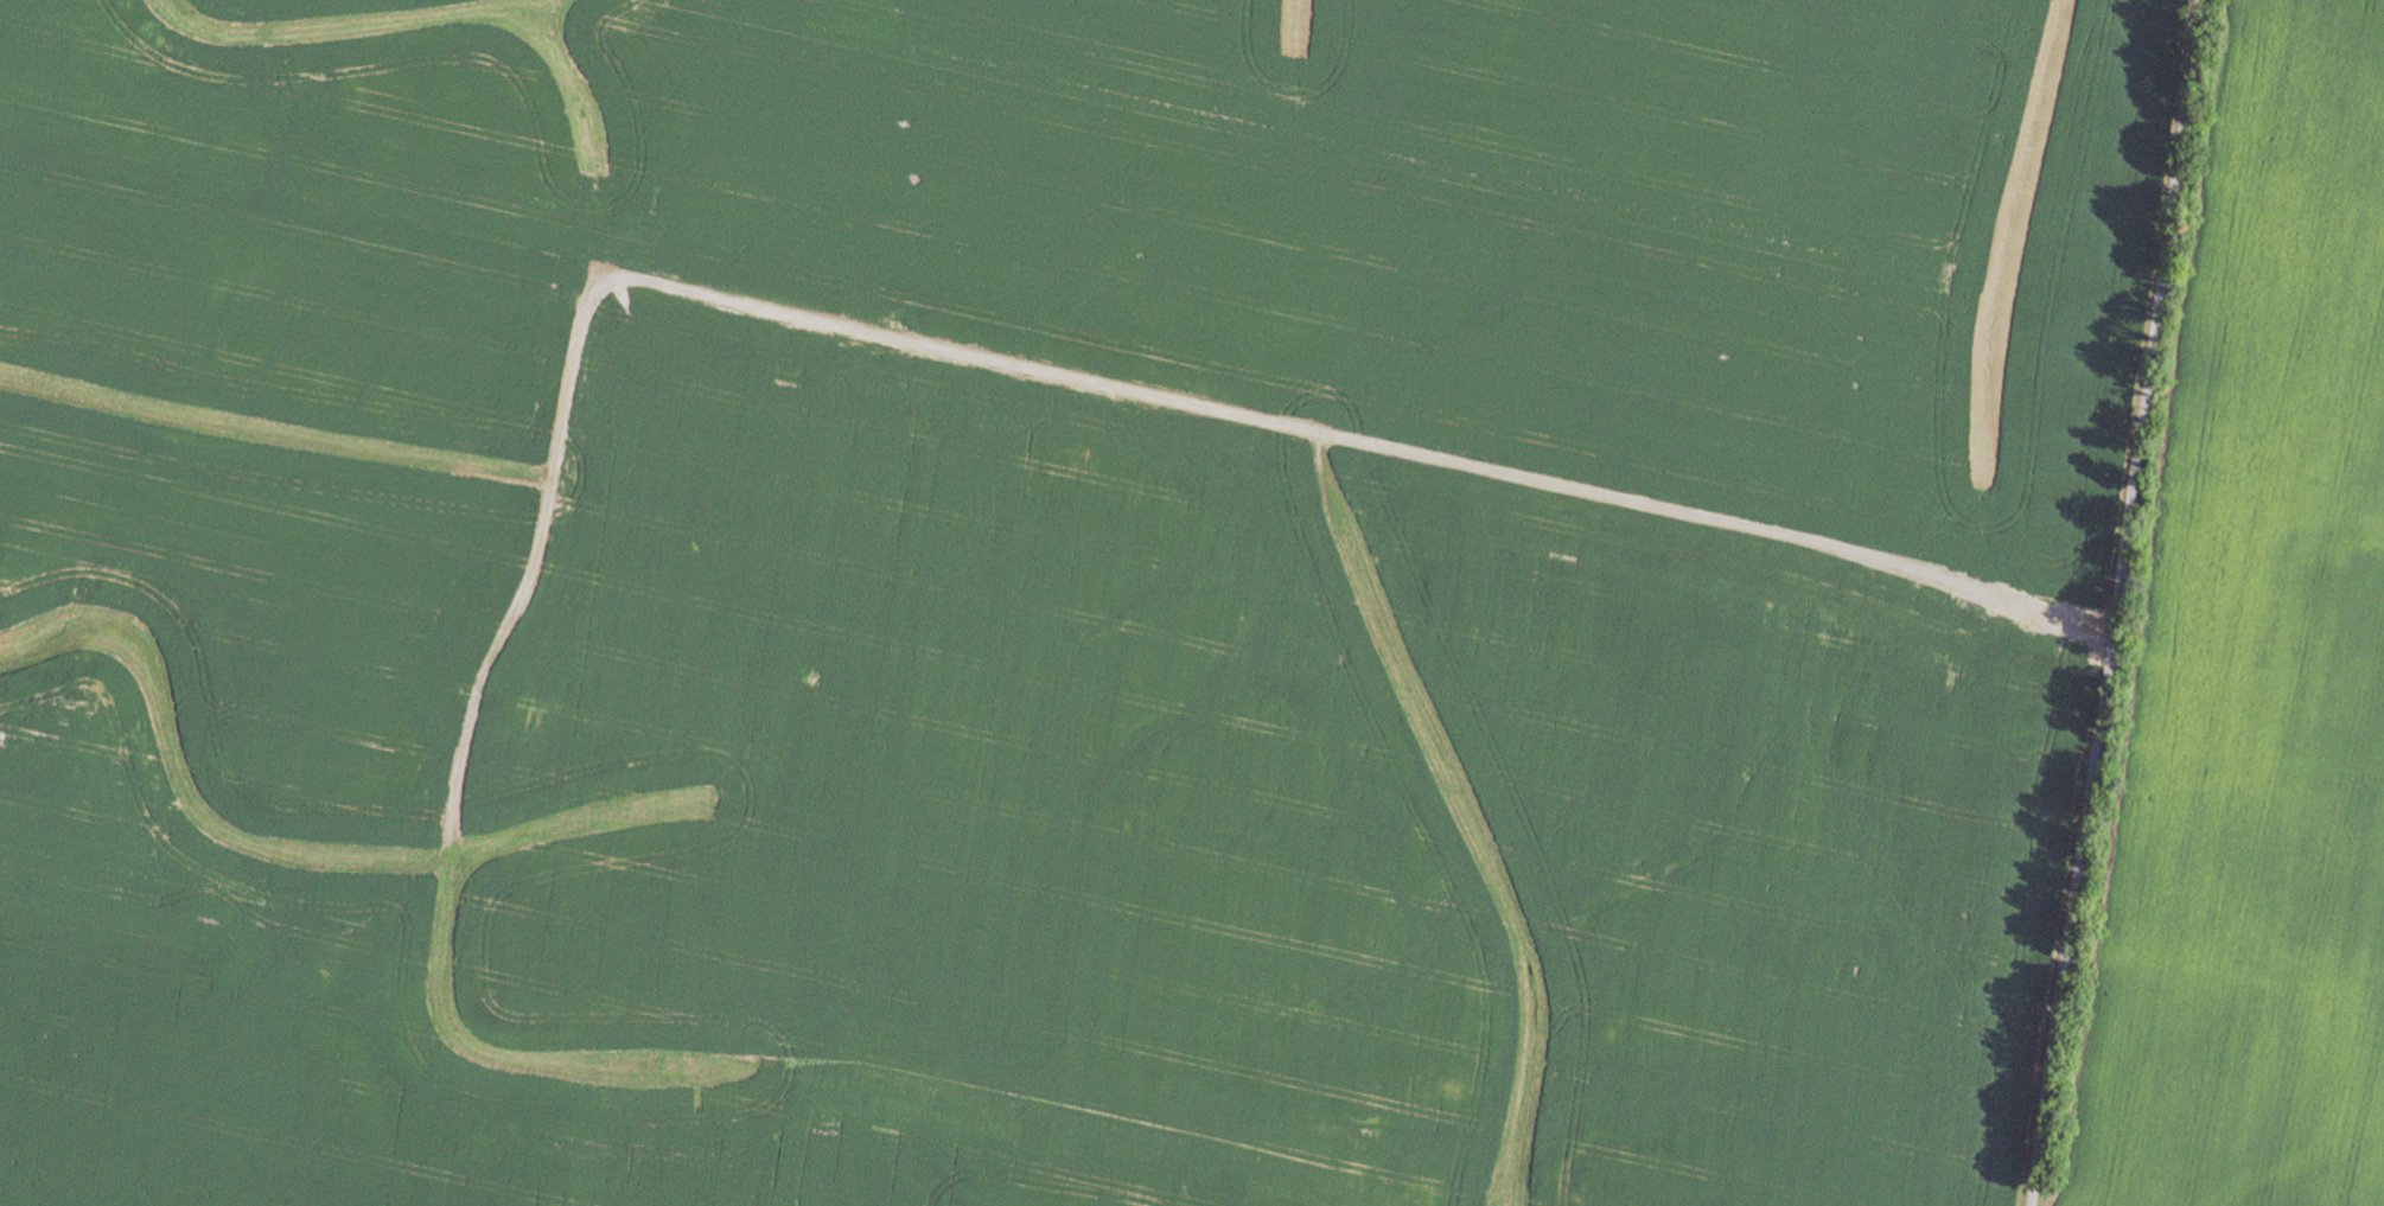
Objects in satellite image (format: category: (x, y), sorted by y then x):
road: (2117, 602)

